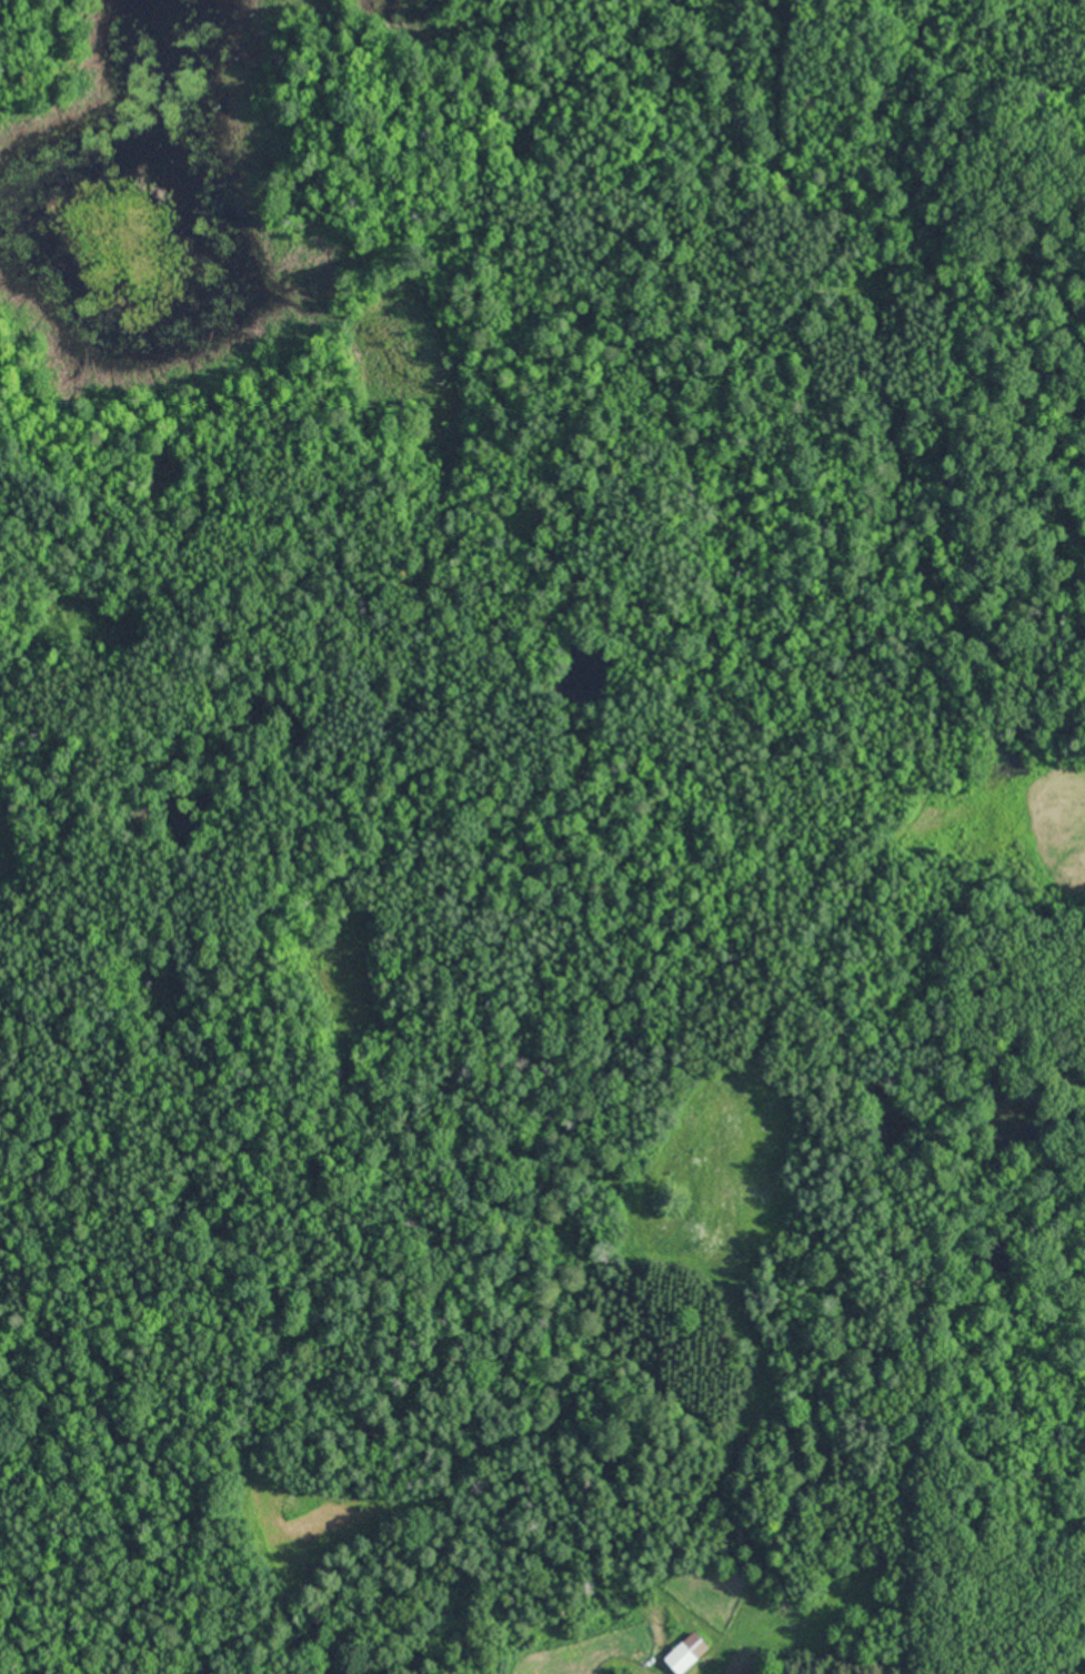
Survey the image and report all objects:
building: (695, 1645)

